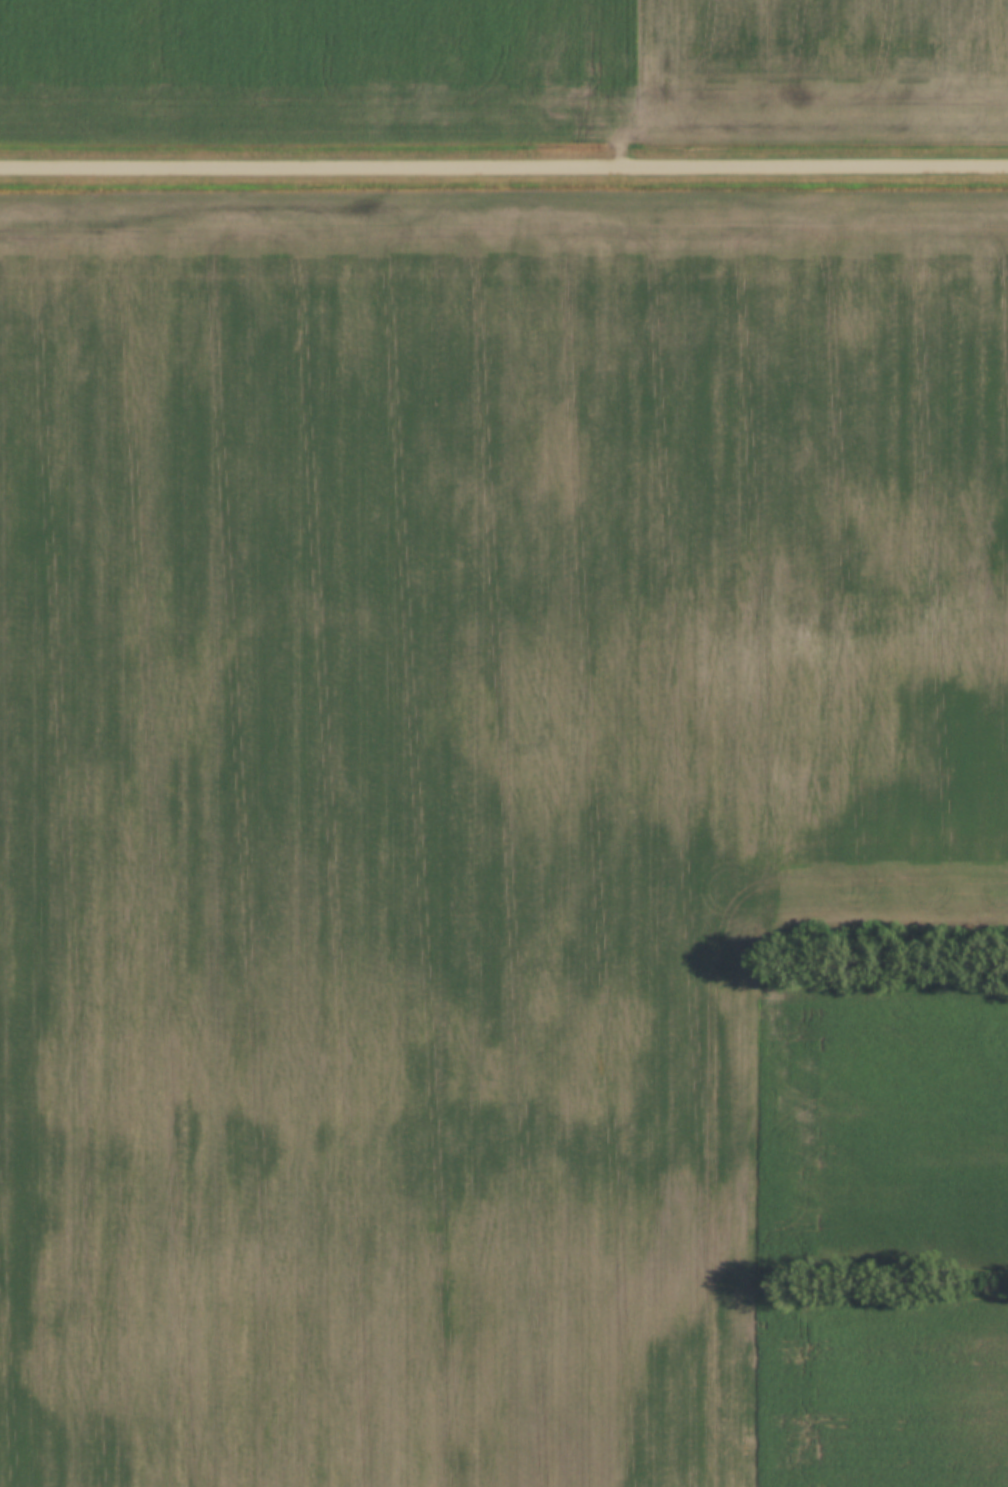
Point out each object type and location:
road: (504, 171)

